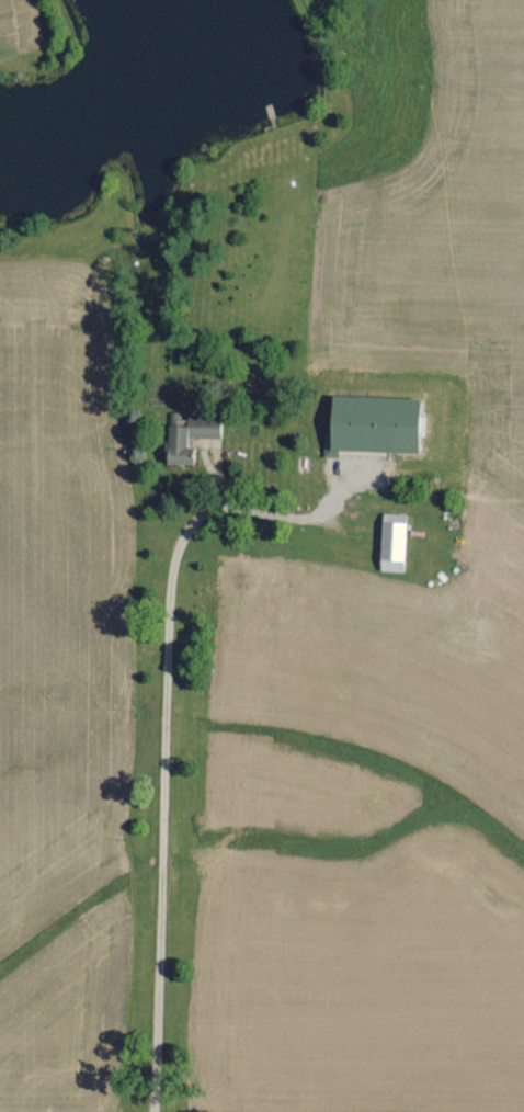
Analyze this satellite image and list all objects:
building: (373, 423)
building: (176, 442)
building: (392, 542)
road: (170, 788)

